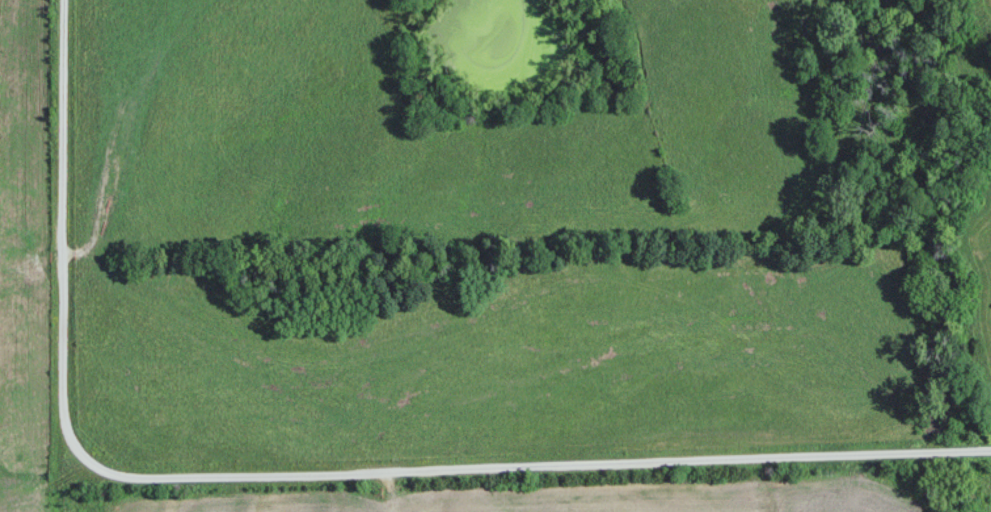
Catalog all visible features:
road: (305, 473)

